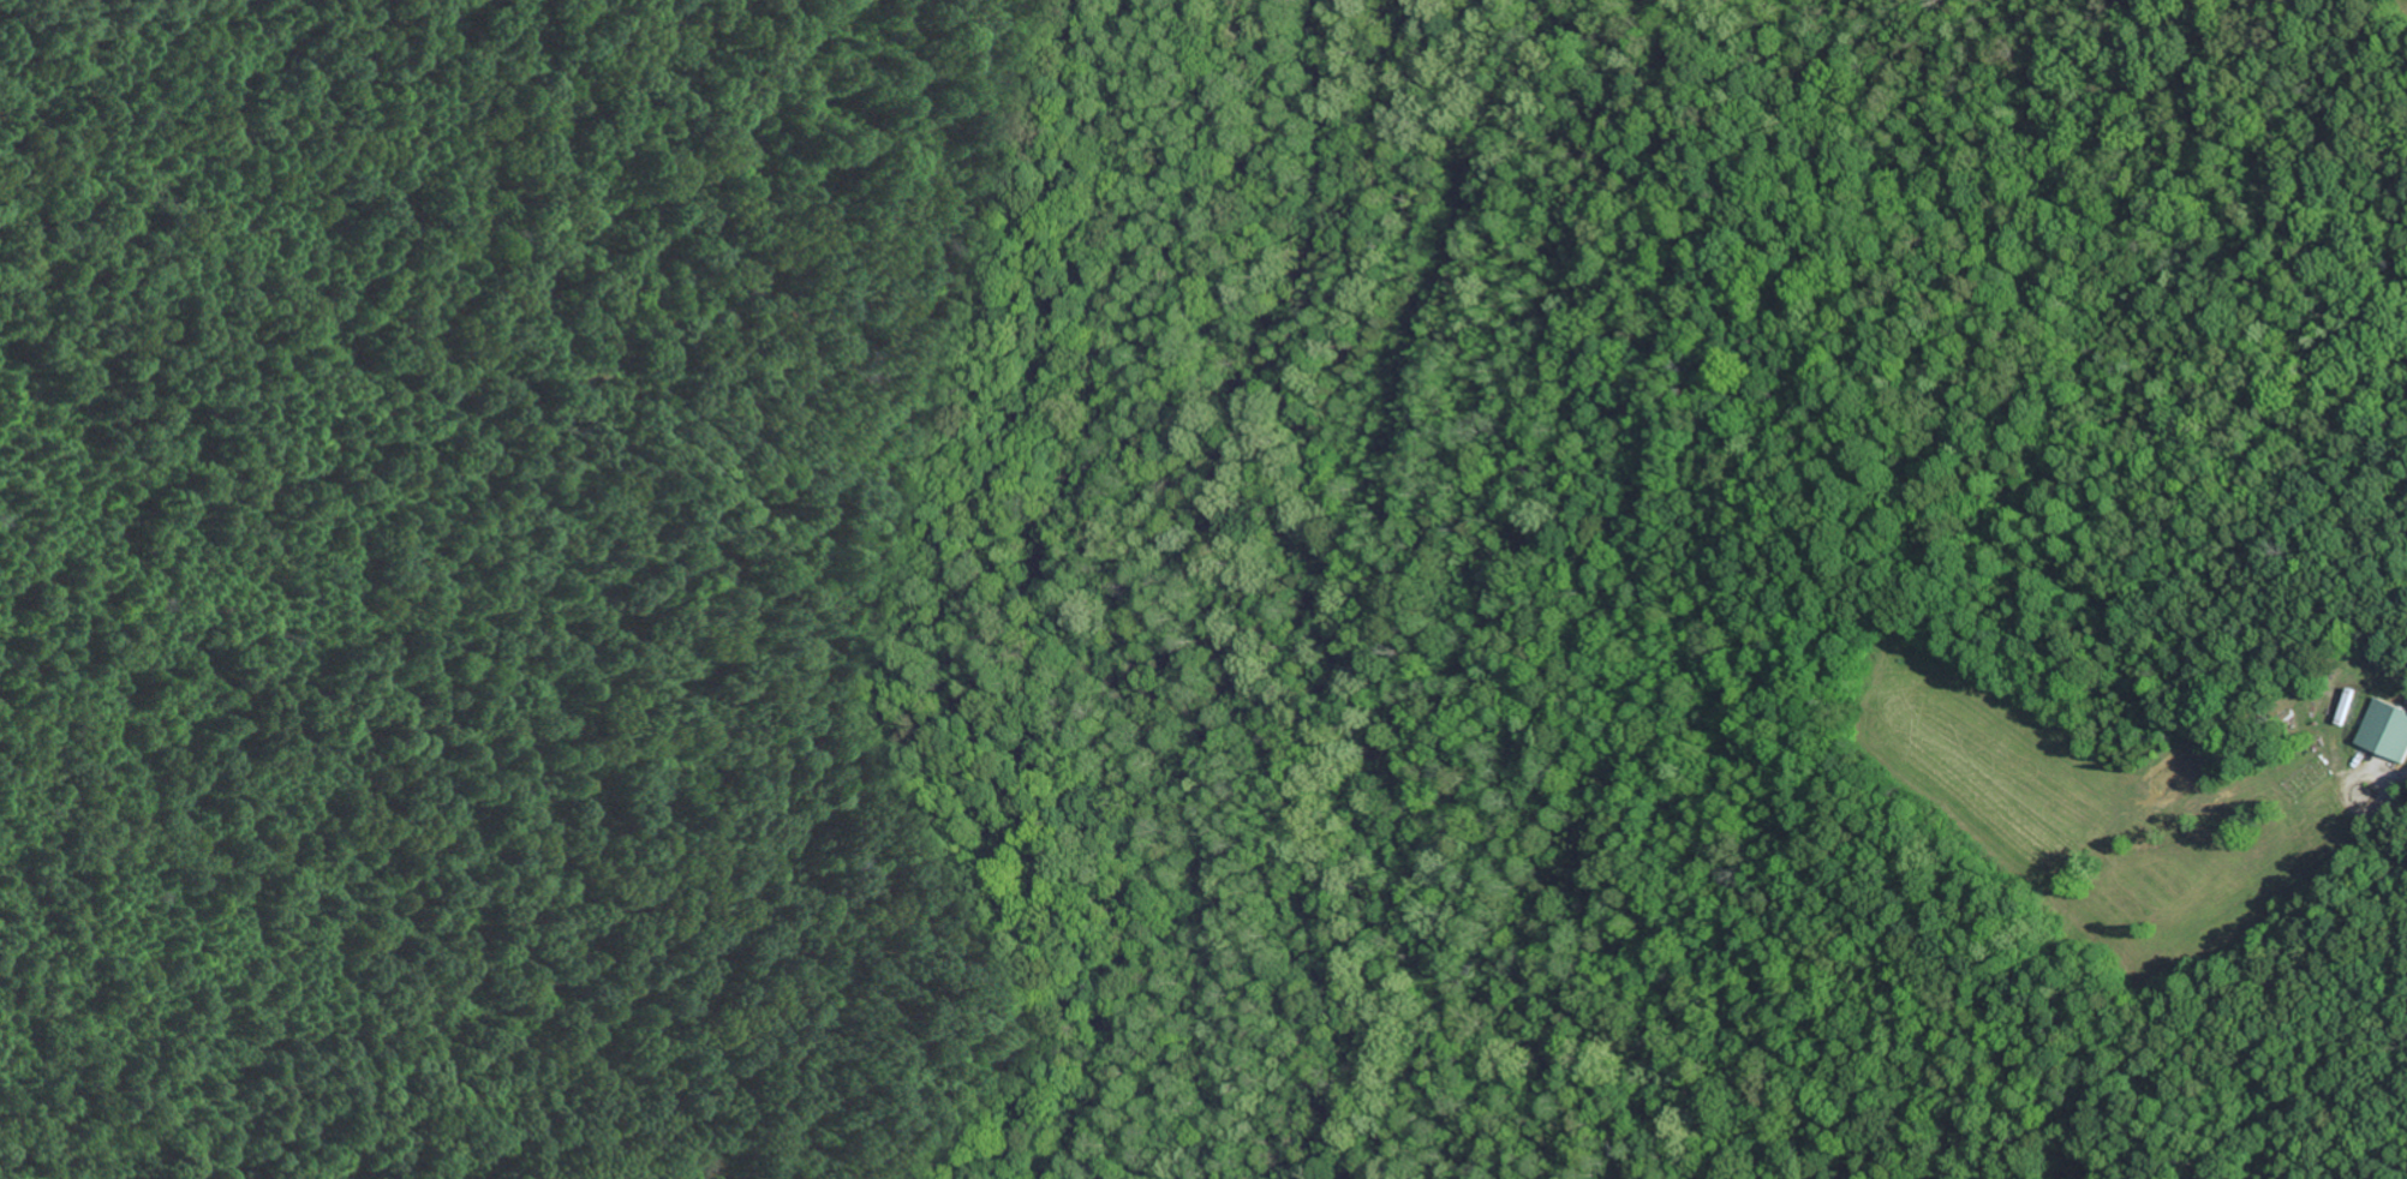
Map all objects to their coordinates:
building: (2383, 730)

